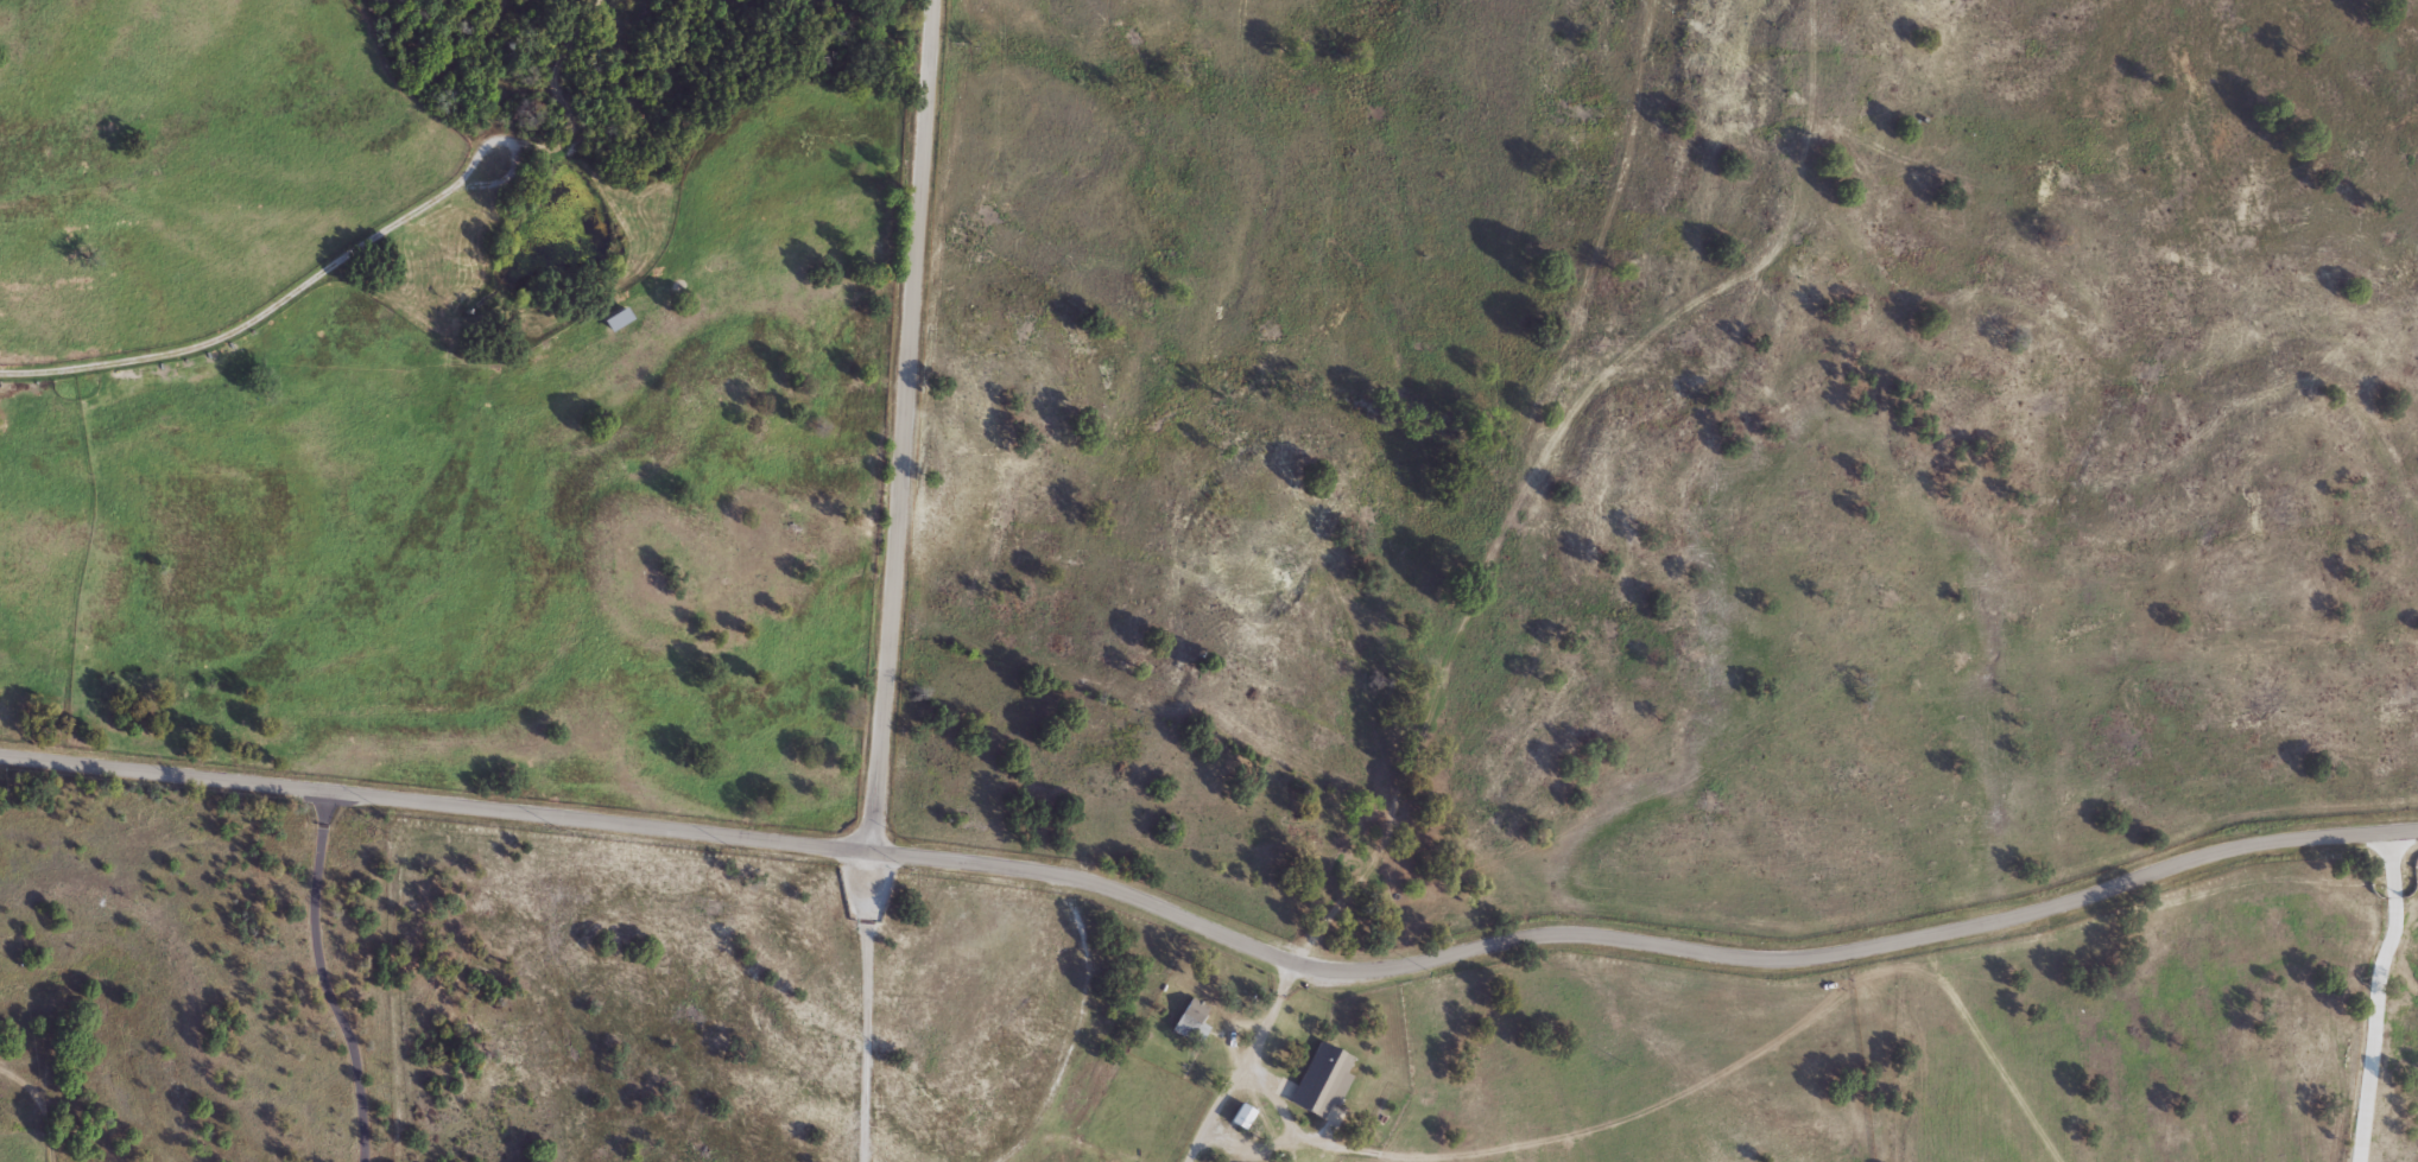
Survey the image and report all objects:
road: (513, 142)
road: (914, 237)
building: (618, 320)
road: (242, 325)
road: (1480, 607)
road: (885, 665)
road: (165, 775)
building: (1360, 814)
road: (1373, 969)
road: (323, 979)
road: (2379, 996)
road: (866, 1007)
building: (1191, 1021)
road: (1987, 1050)
building: (1321, 1082)
road: (27, 1087)
building: (1241, 1118)
road: (1292, 1129)
road: (50, 1139)

